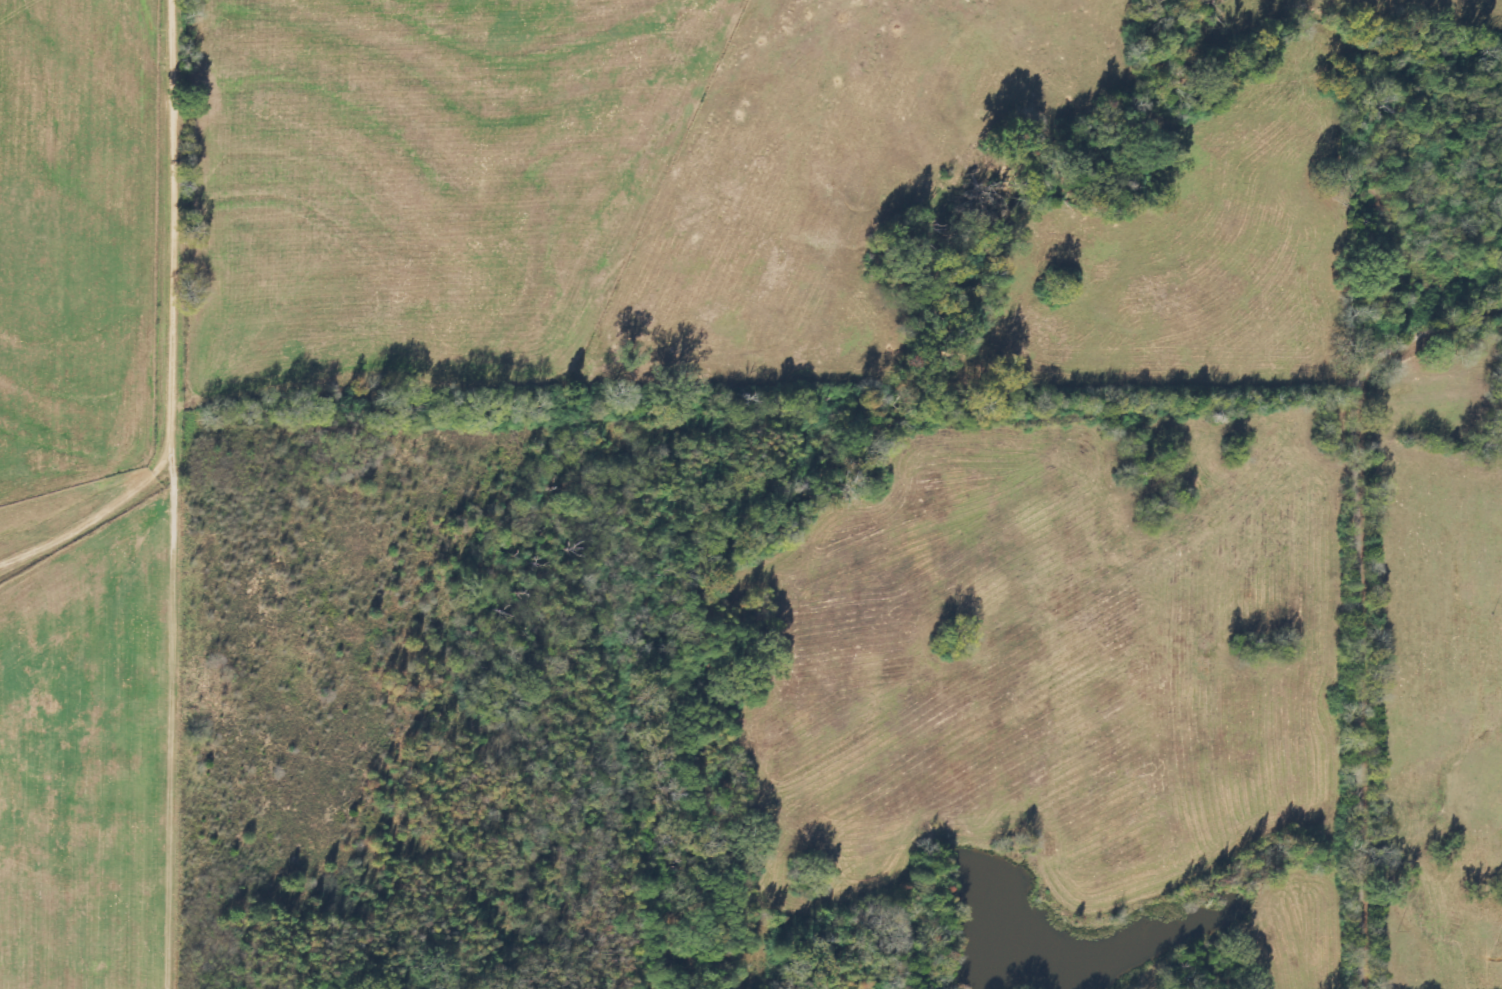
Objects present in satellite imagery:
road: (148, 313)
road: (1368, 604)

